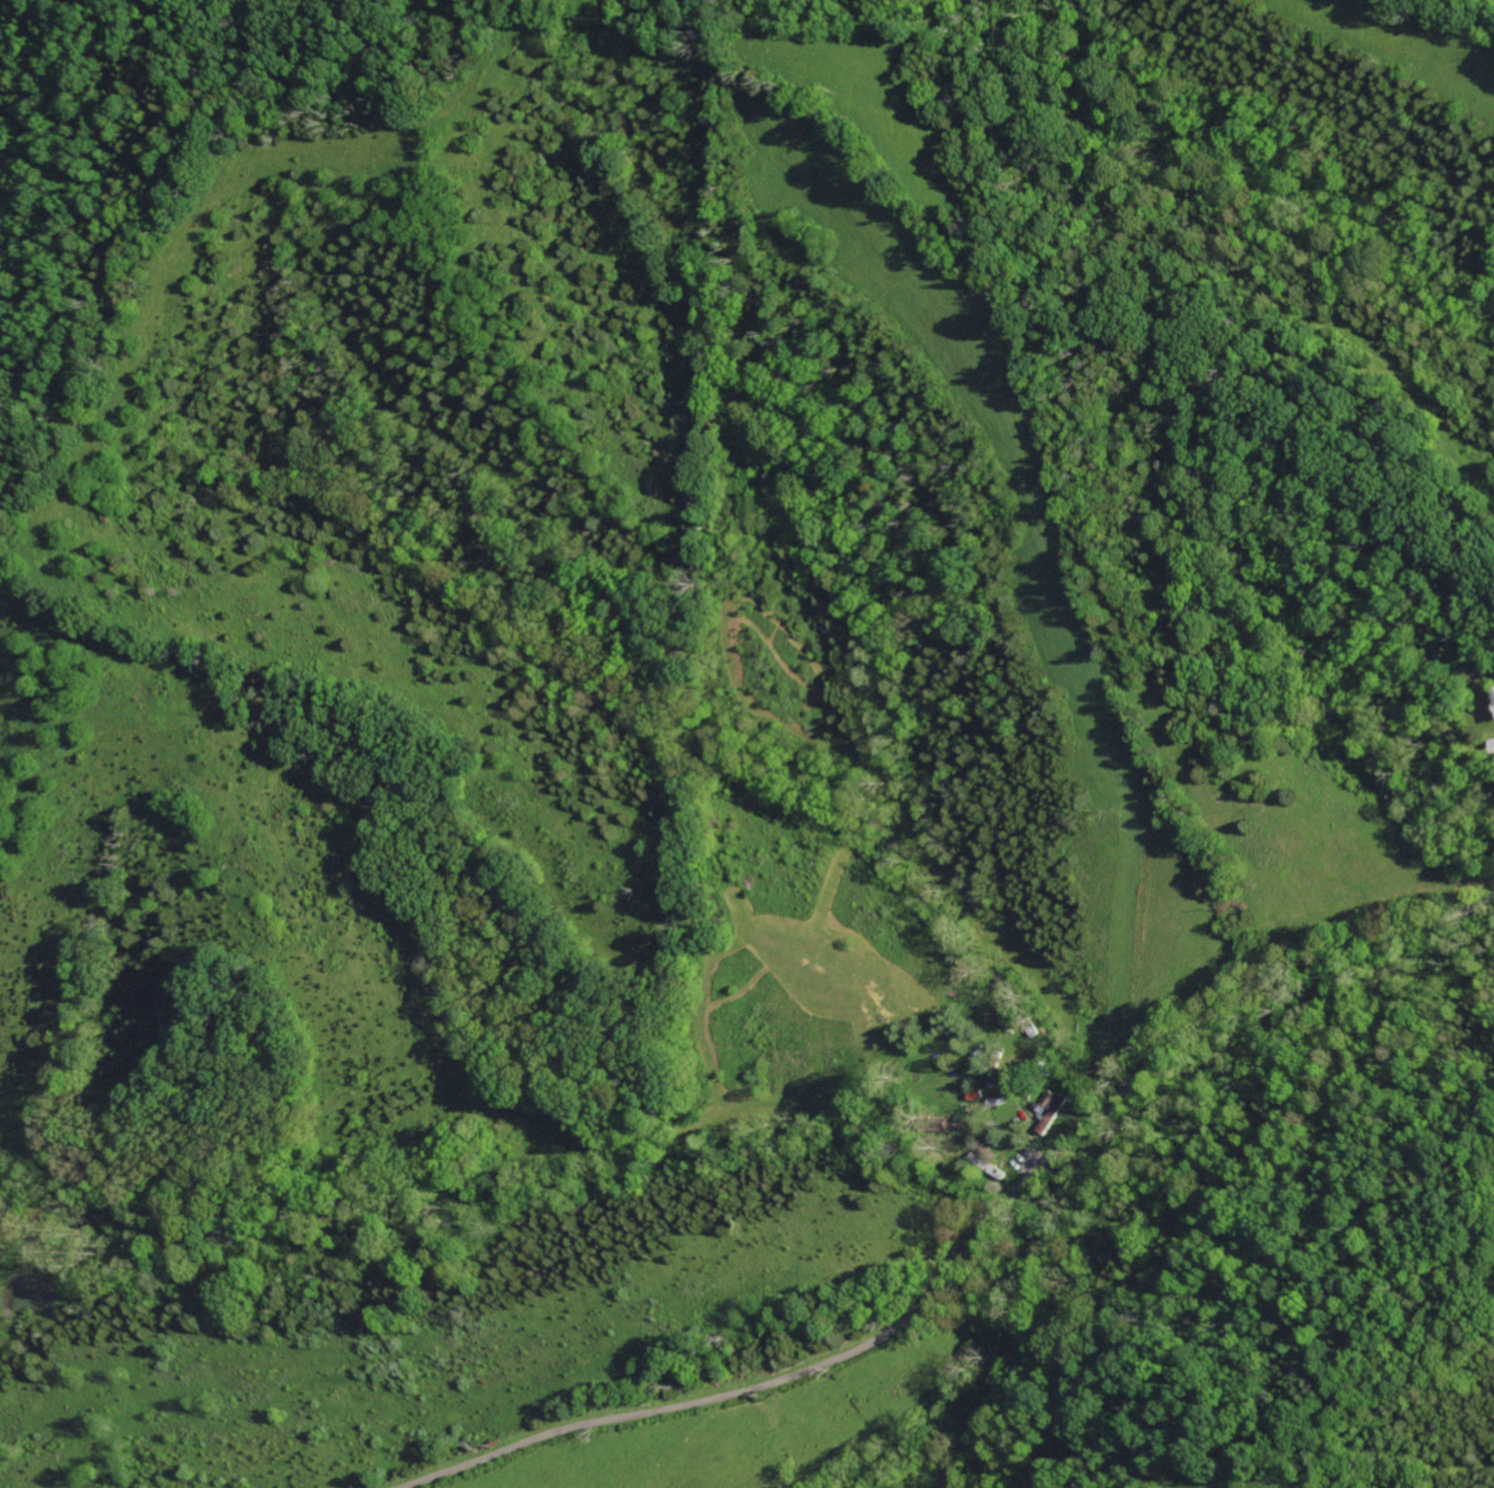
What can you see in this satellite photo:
road: (1493, 893)
road: (967, 1240)

